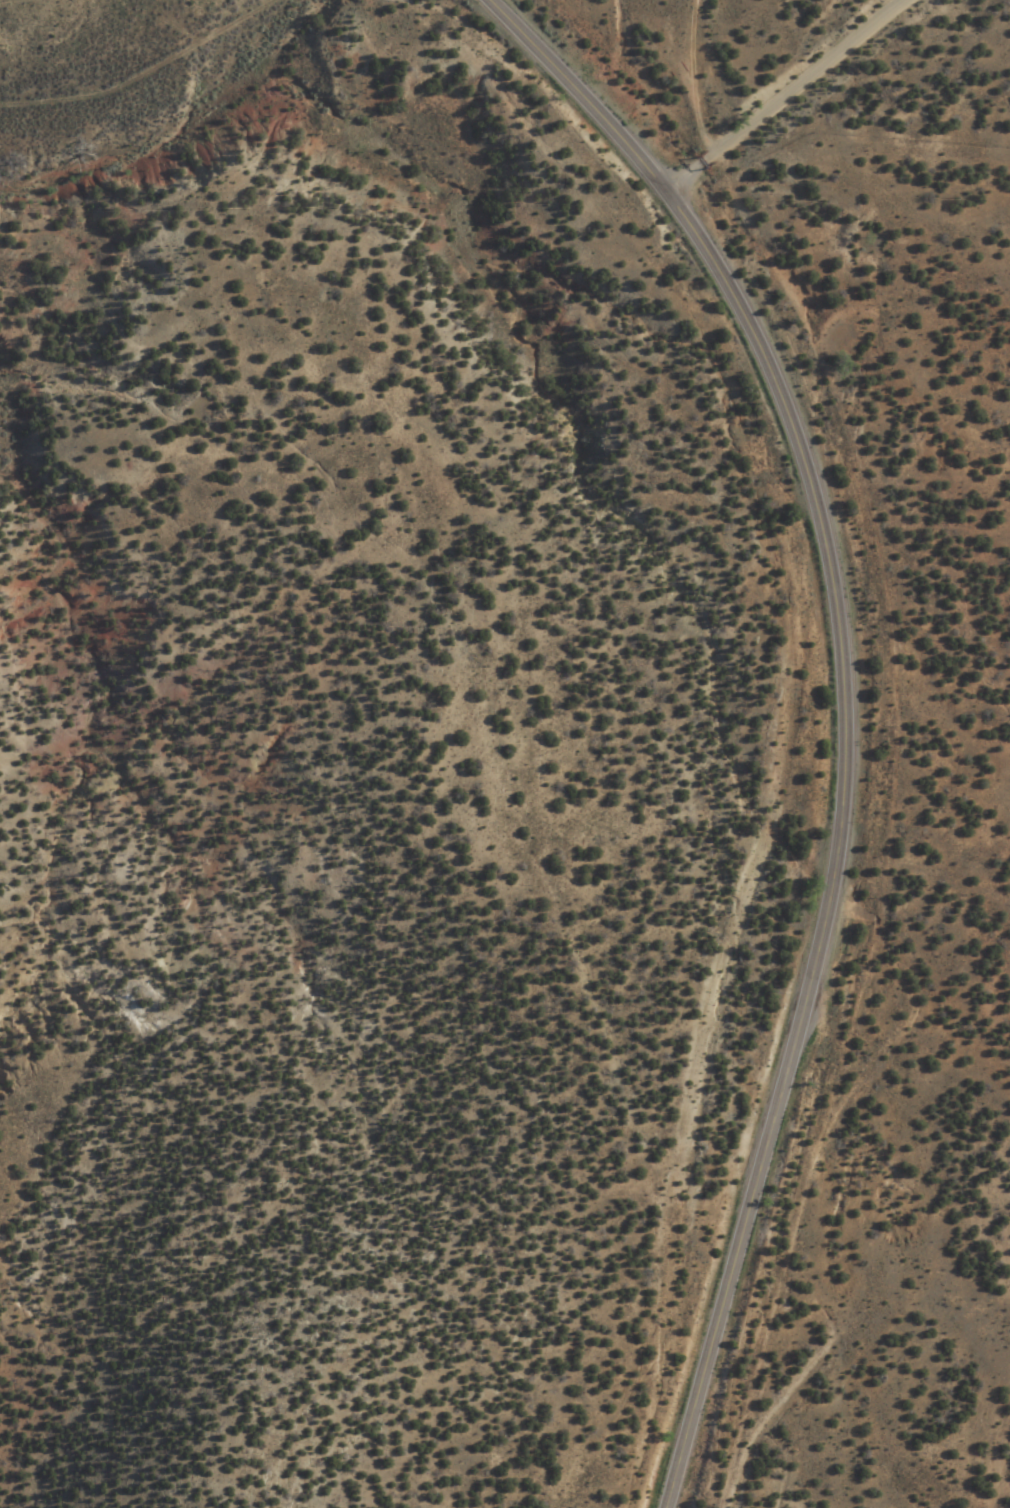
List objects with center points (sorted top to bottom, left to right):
road: (785, 94)
road: (840, 640)
road: (686, 1441)

